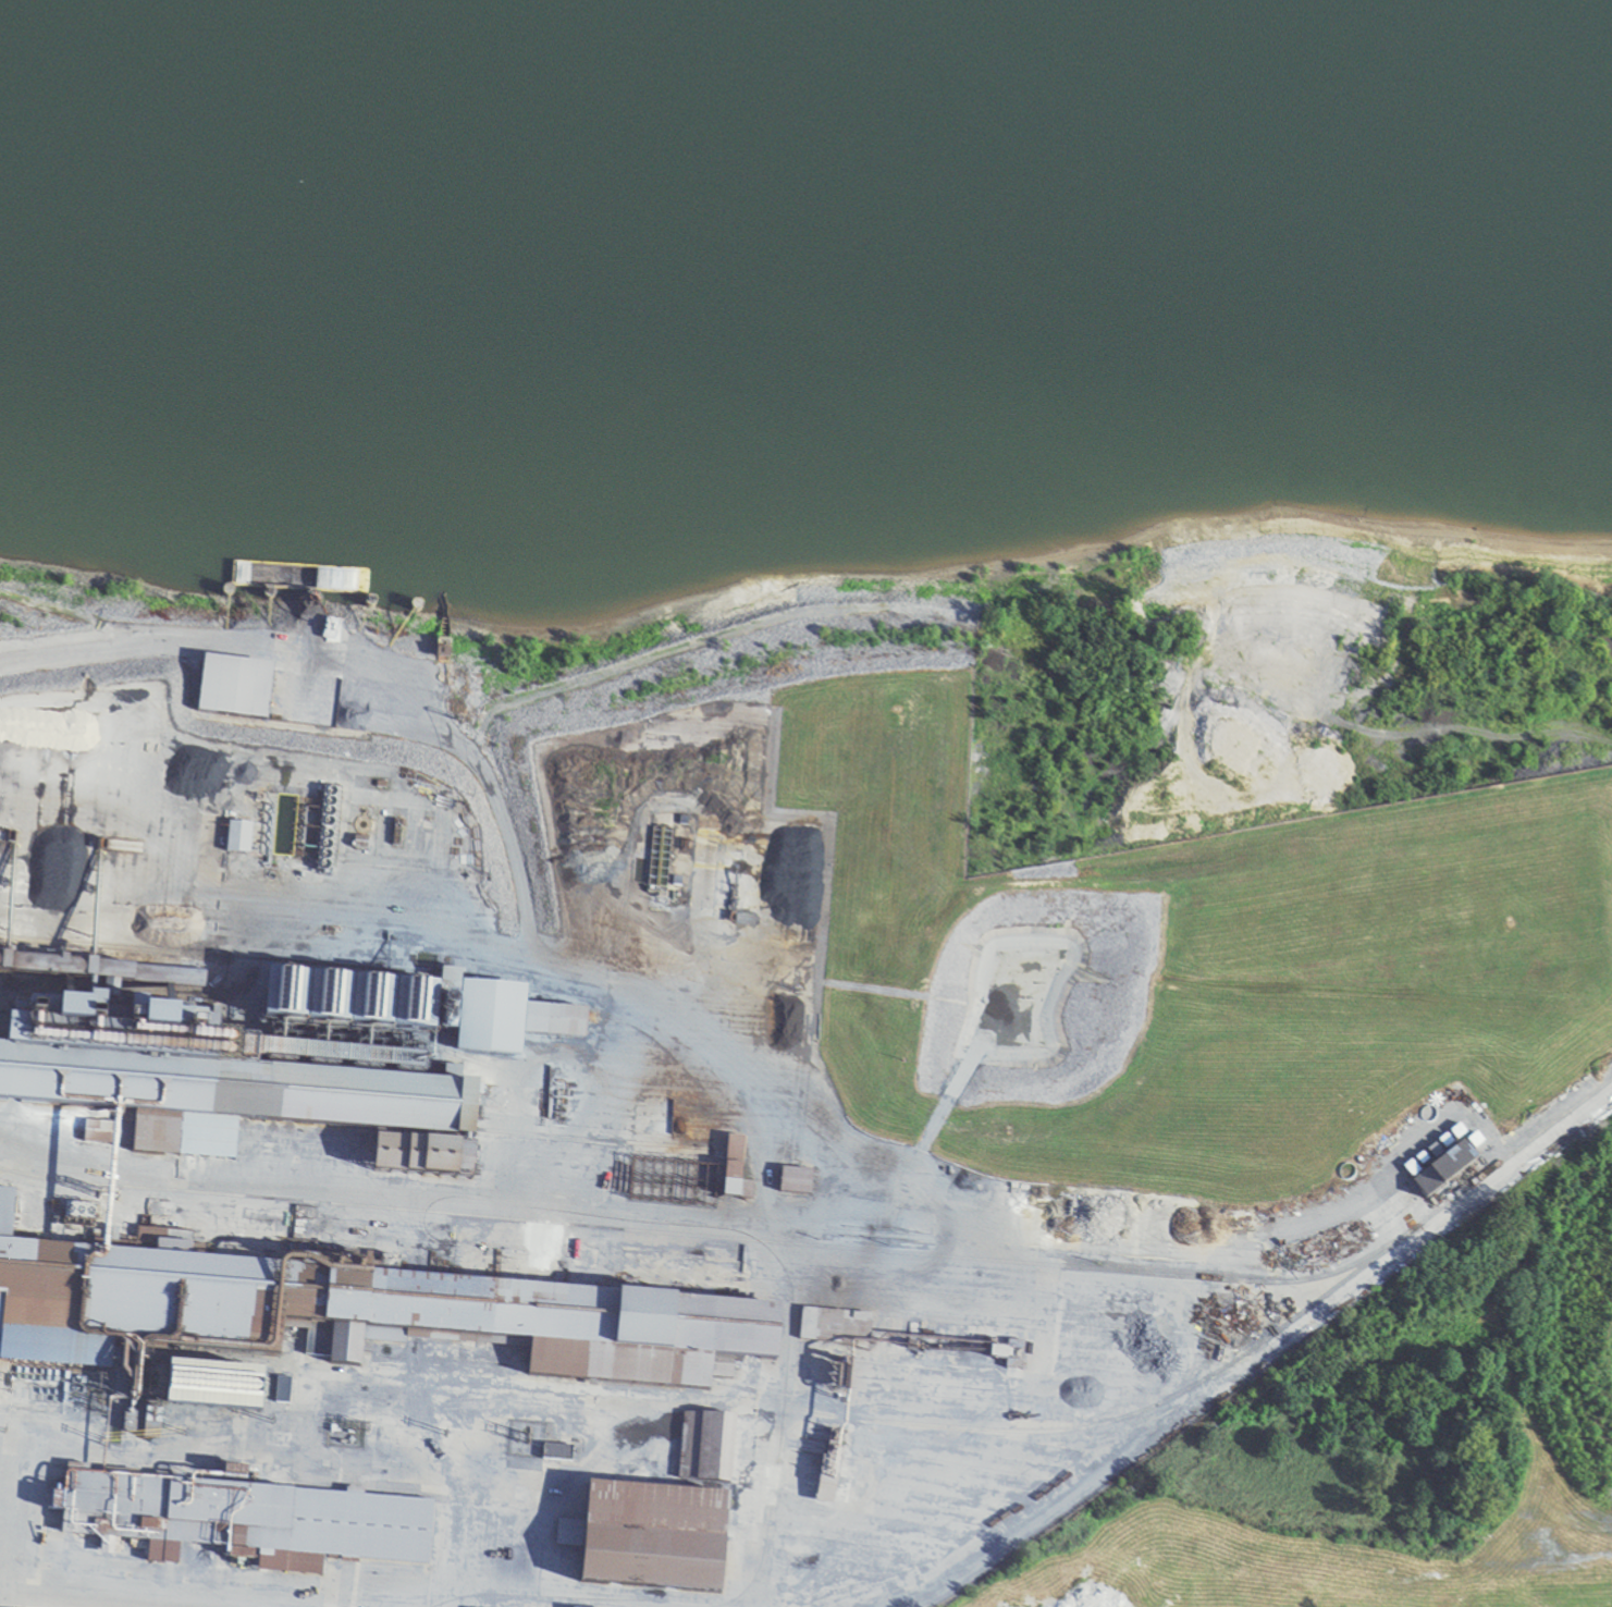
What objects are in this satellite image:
river: (802, 75)
building: (236, 689)
building: (238, 841)
railway: (14, 940)
building: (479, 1016)
building: (250, 1087)
railway: (355, 1118)
building: (99, 1132)
building: (1448, 1176)
building: (797, 1182)
building: (738, 1185)
railway: (709, 1239)
building: (63, 1288)
railway: (1291, 1320)
building: (812, 1326)
building: (603, 1332)
building: (236, 1519)
building: (563, 1537)
building: (663, 1542)

